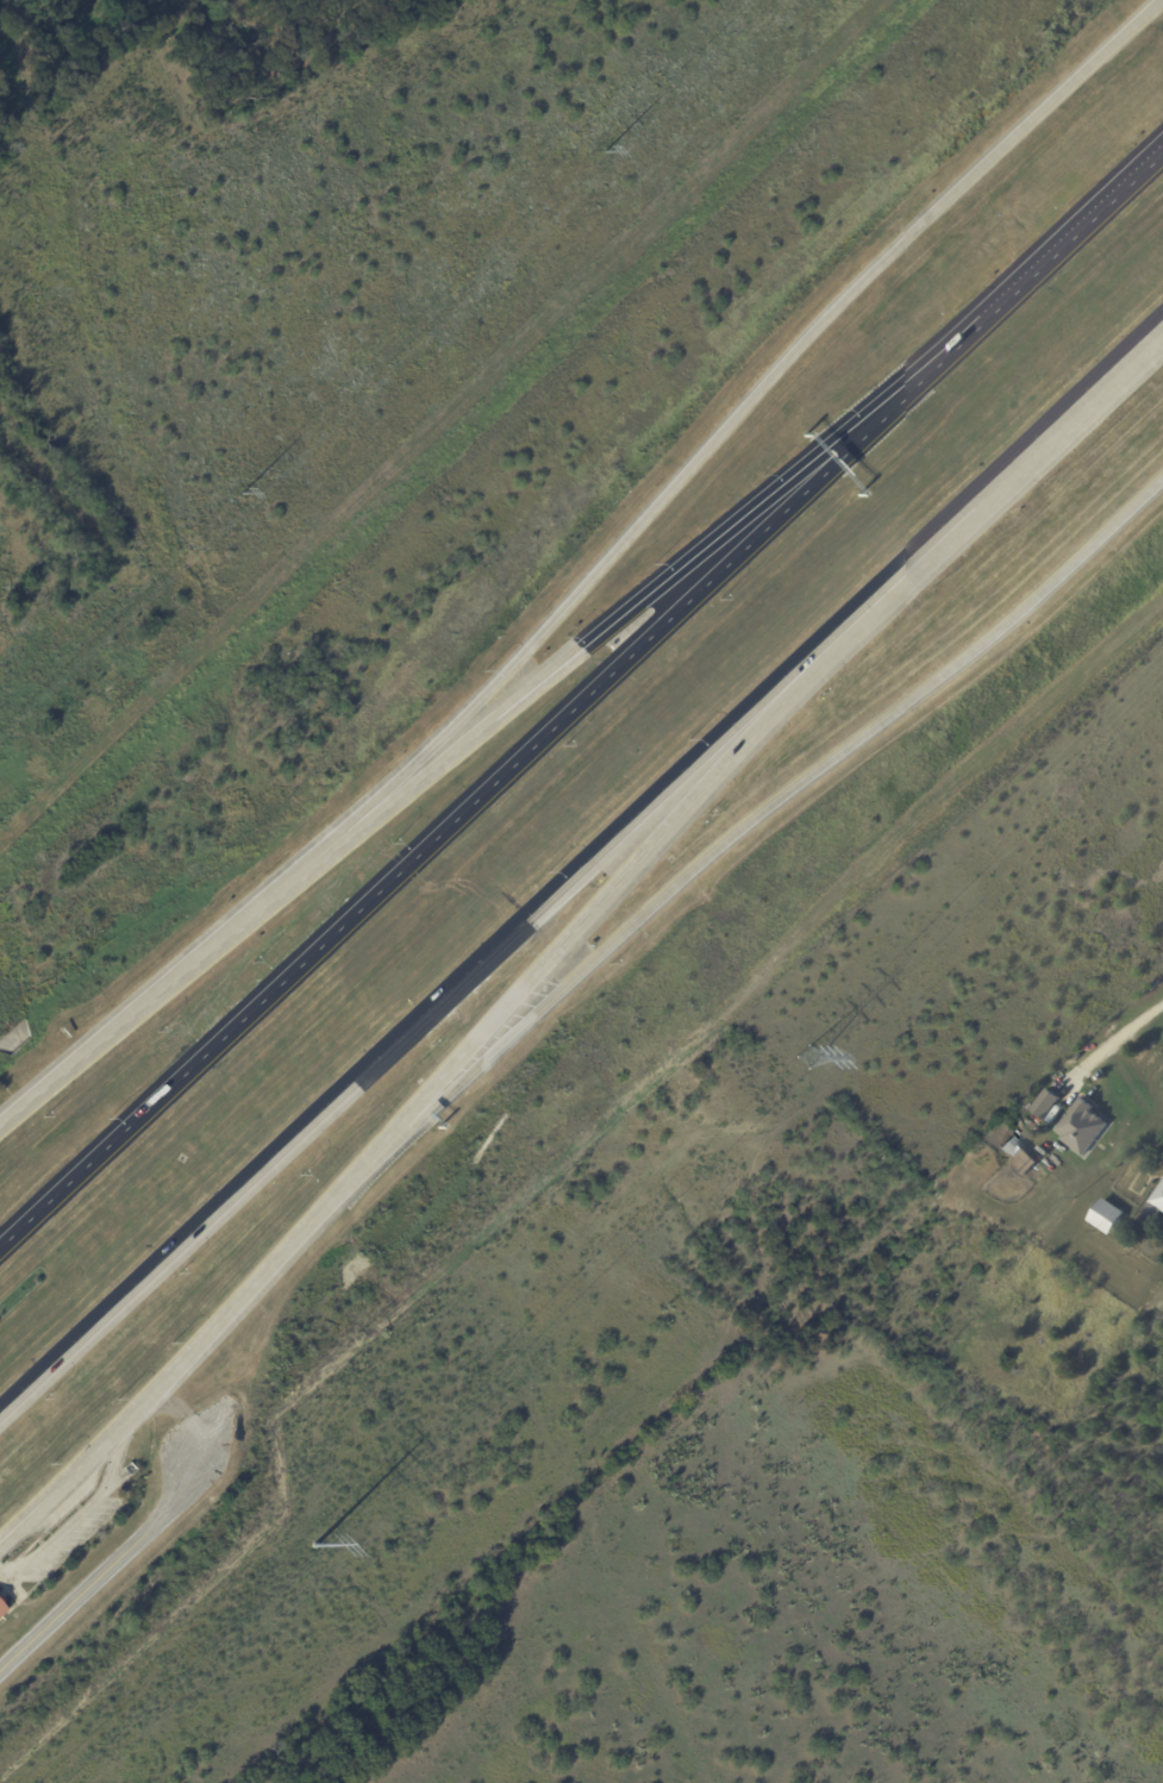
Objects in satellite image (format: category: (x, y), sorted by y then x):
power tower: (612, 151)
road: (1076, 237)
road: (768, 380)
road: (912, 387)
road: (1063, 430)
power tower: (245, 489)
road: (618, 620)
road: (754, 820)
road: (665, 851)
road: (419, 853)
road: (199, 956)
road: (474, 959)
road: (1109, 1044)
power tower: (807, 1064)
building: (1044, 1106)
building: (1081, 1130)
building: (1014, 1153)
building: (1155, 1203)
building: (1105, 1216)
road: (182, 1362)
parking lot: (86, 1487)
road: (77, 1515)
power tower: (313, 1549)
road: (108, 1570)
building: (2, 1608)

